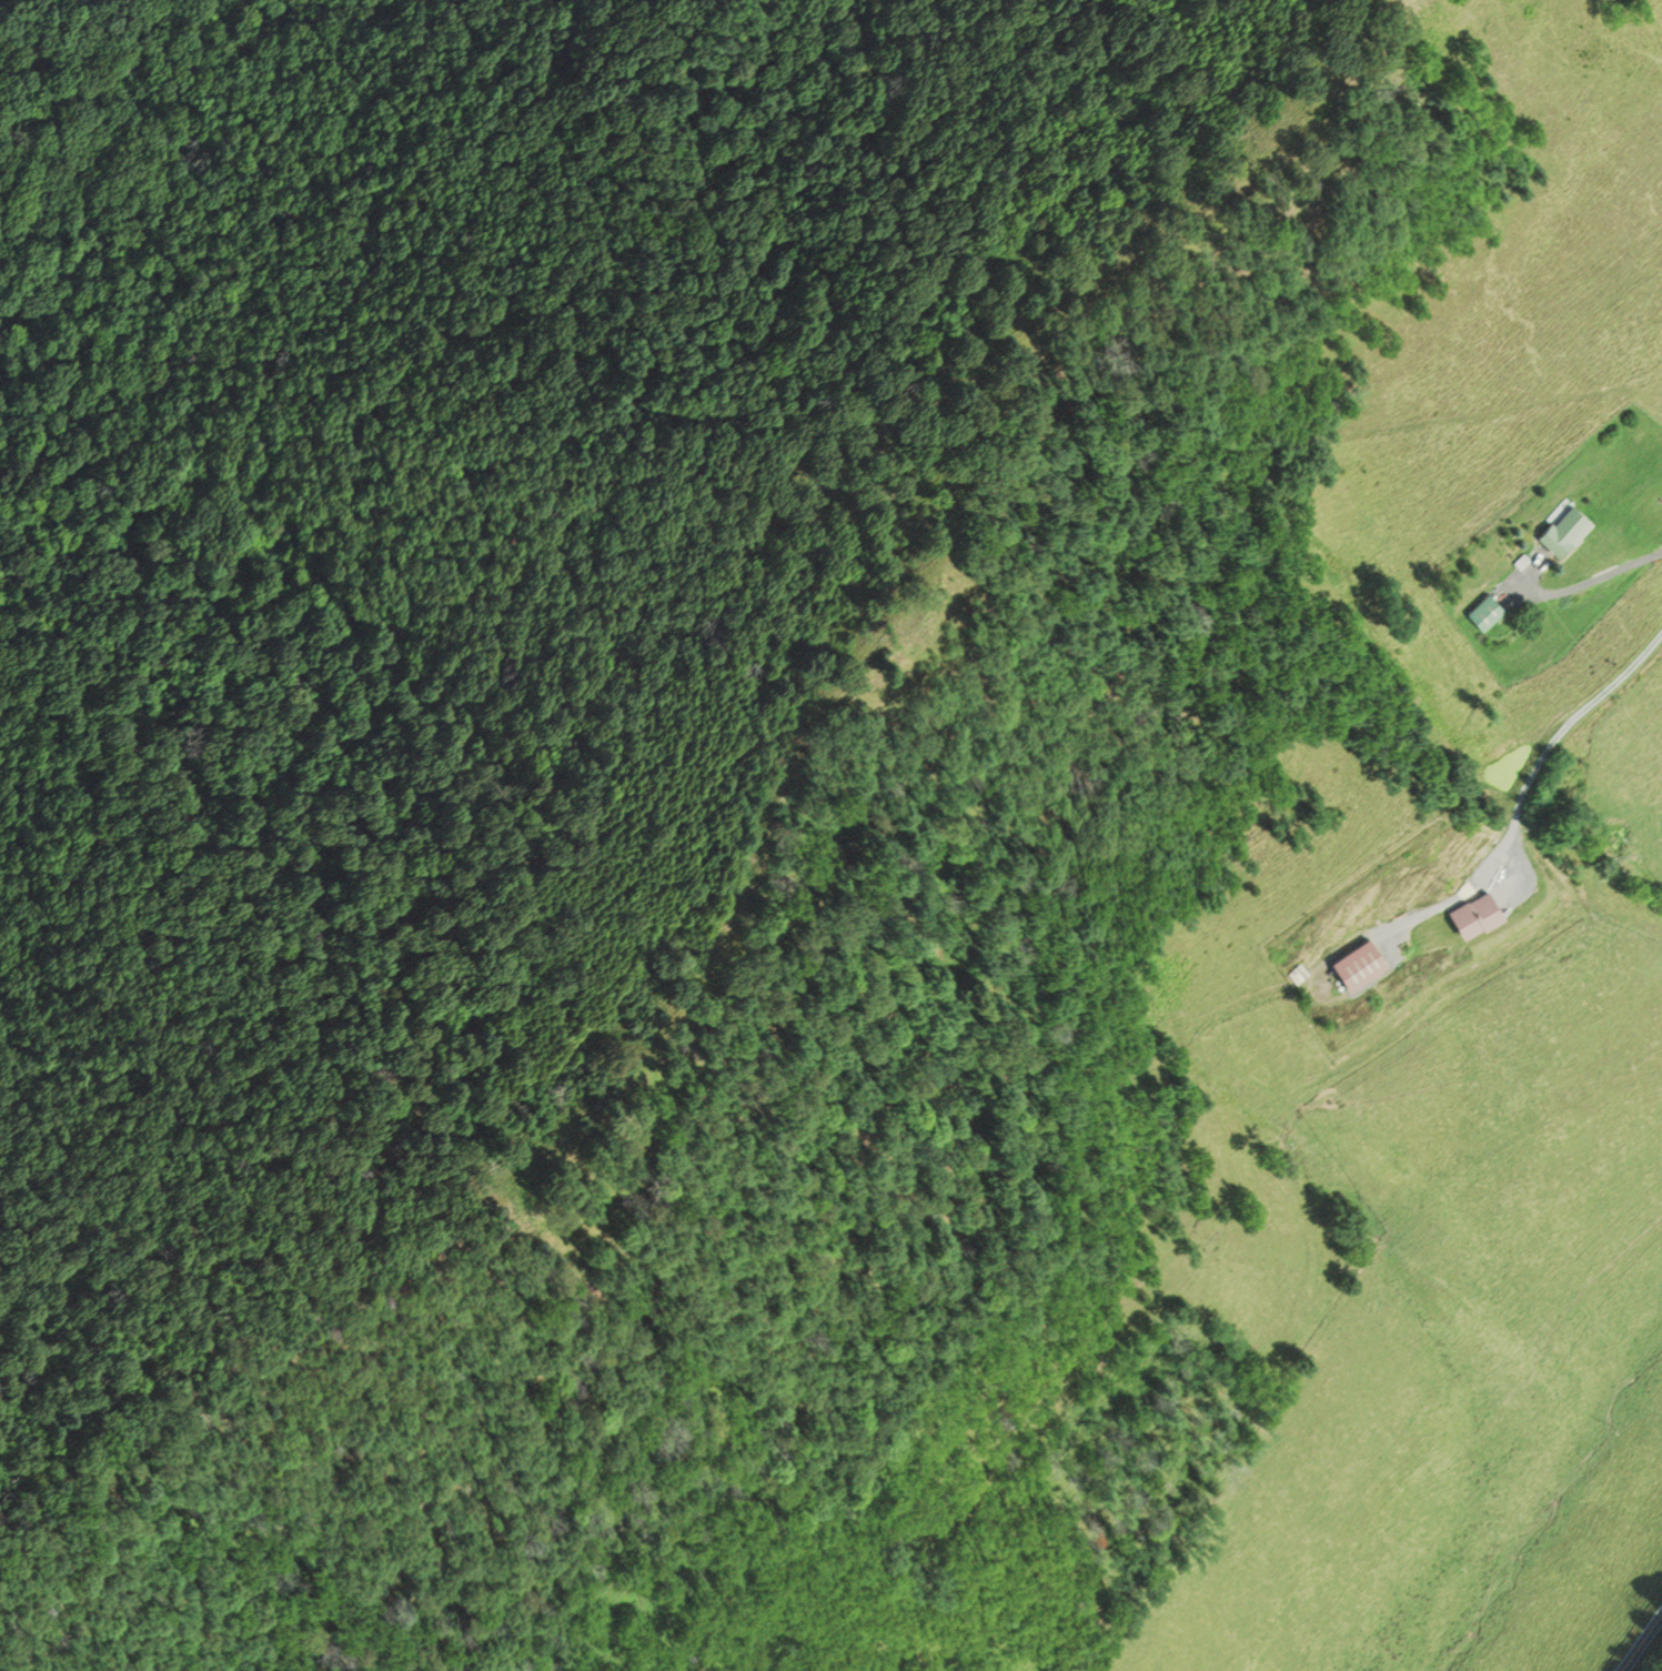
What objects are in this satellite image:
building: (1562, 529)
road: (1589, 581)
building: (1482, 611)
road: (1547, 746)
building: (1471, 910)
building: (1357, 959)
road: (1642, 1643)

